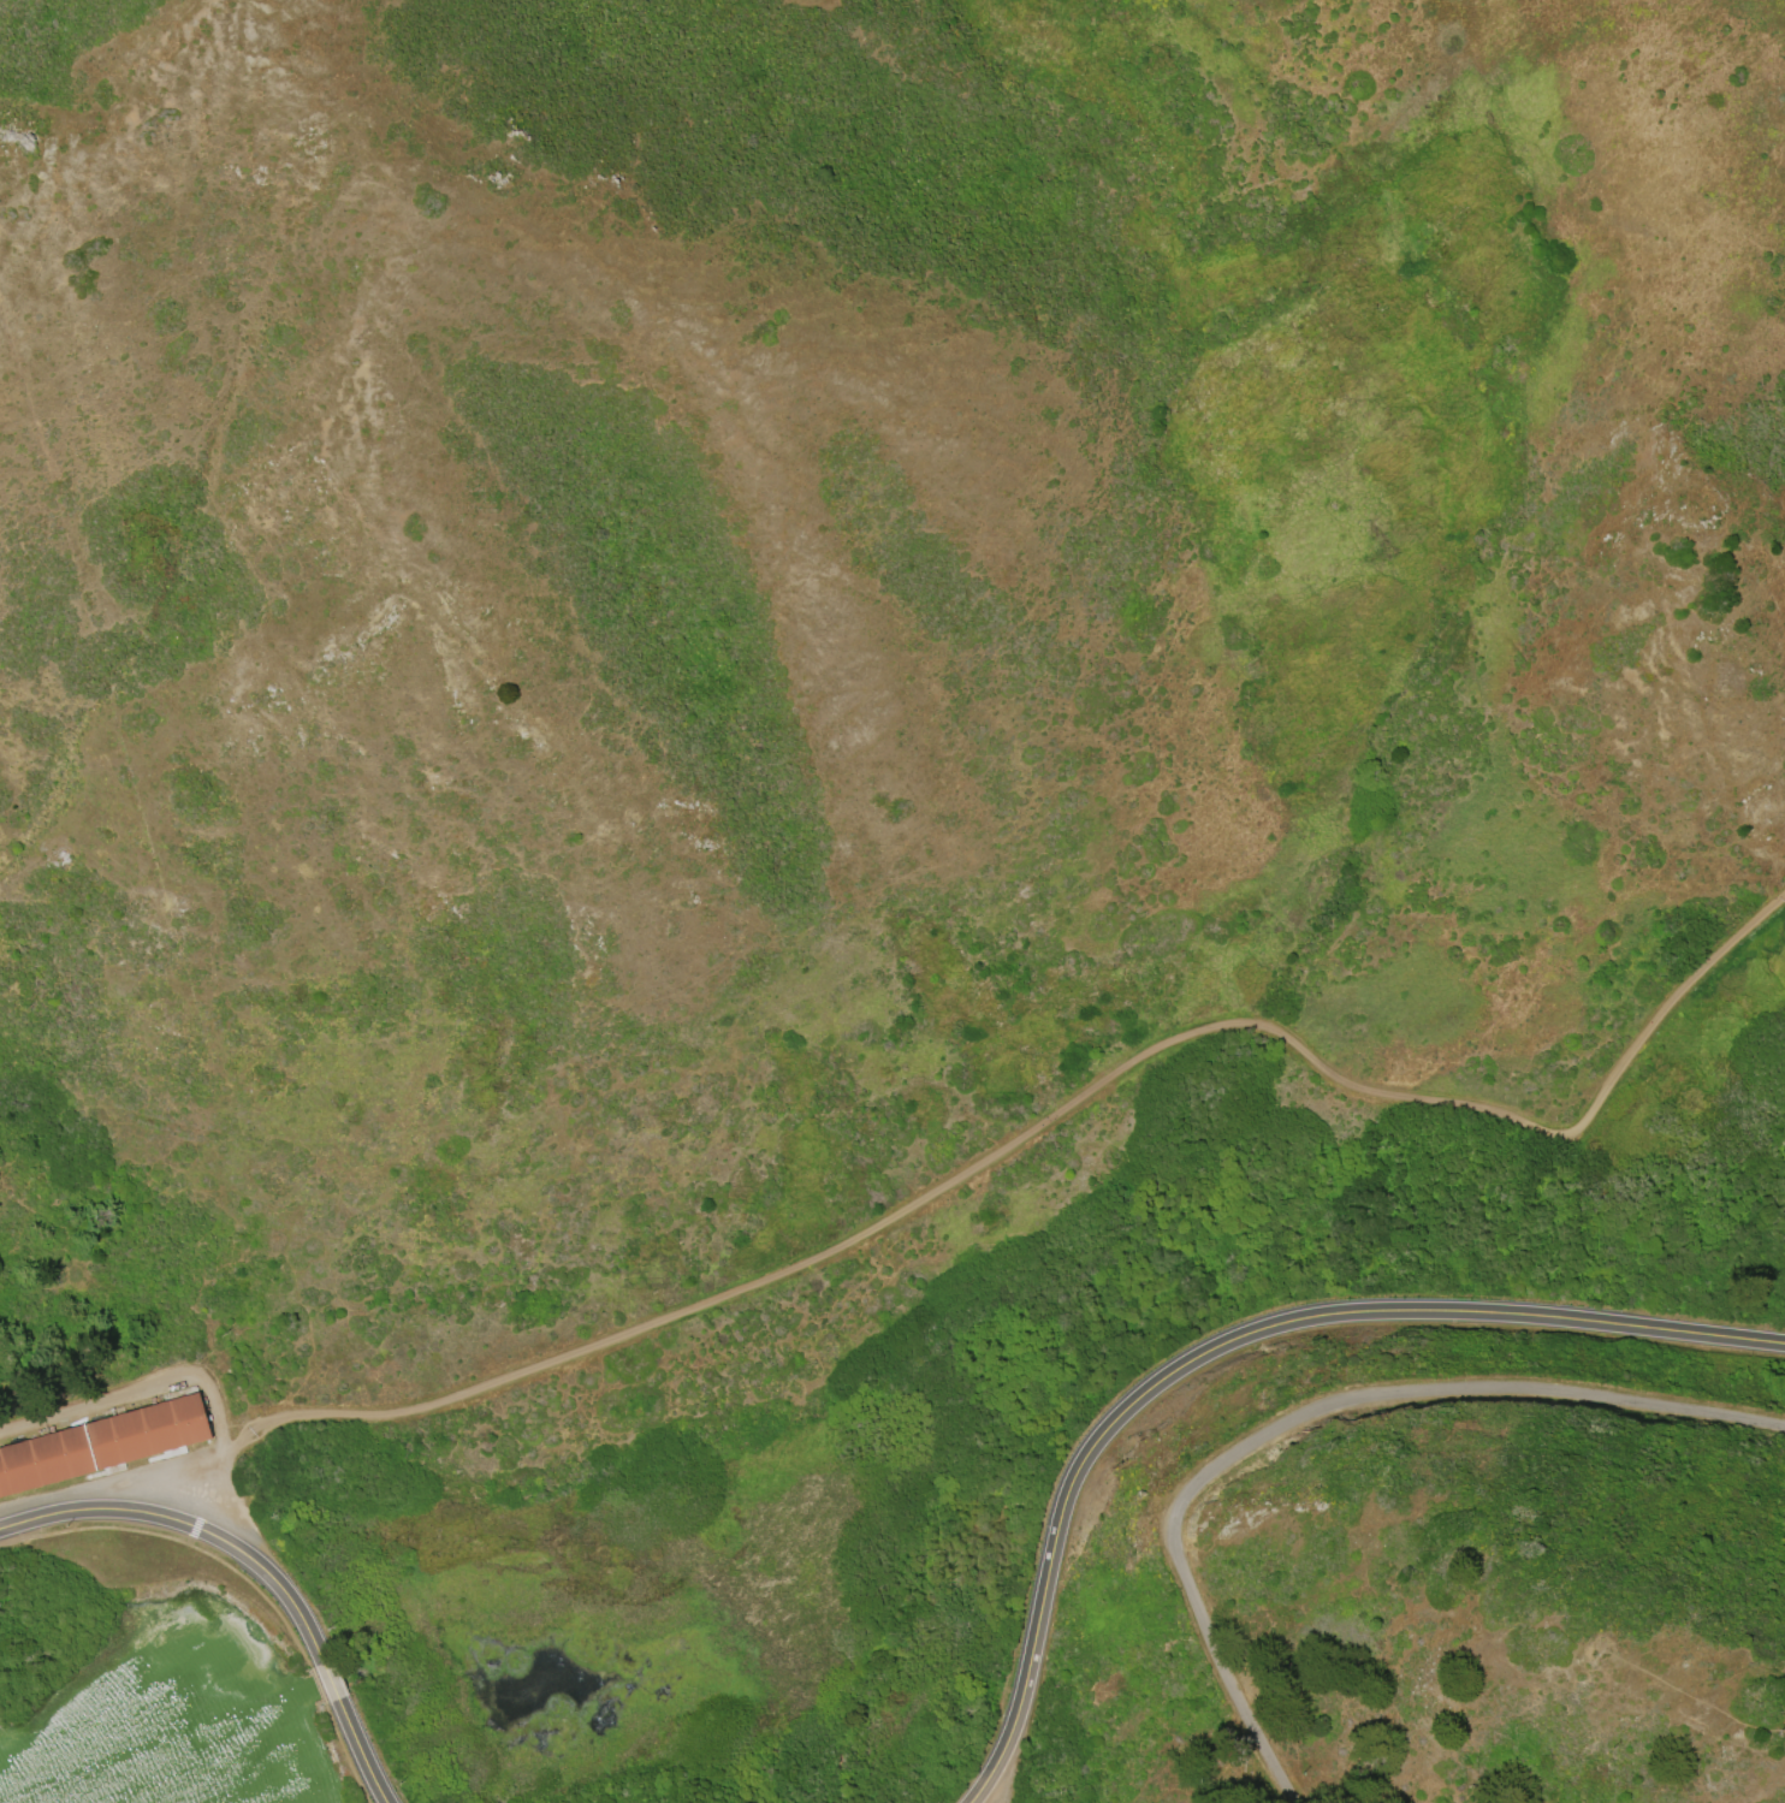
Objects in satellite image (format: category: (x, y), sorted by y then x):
road: (1671, 1008)
road: (883, 1221)
road: (1230, 1339)
road: (141, 1386)
road: (1311, 1417)
building: (102, 1442)
parking lot: (162, 1490)
road: (192, 1526)
road: (190, 1552)
road: (172, 1577)
road: (330, 1684)
road: (319, 1689)
road: (358, 1752)
road: (345, 1754)

